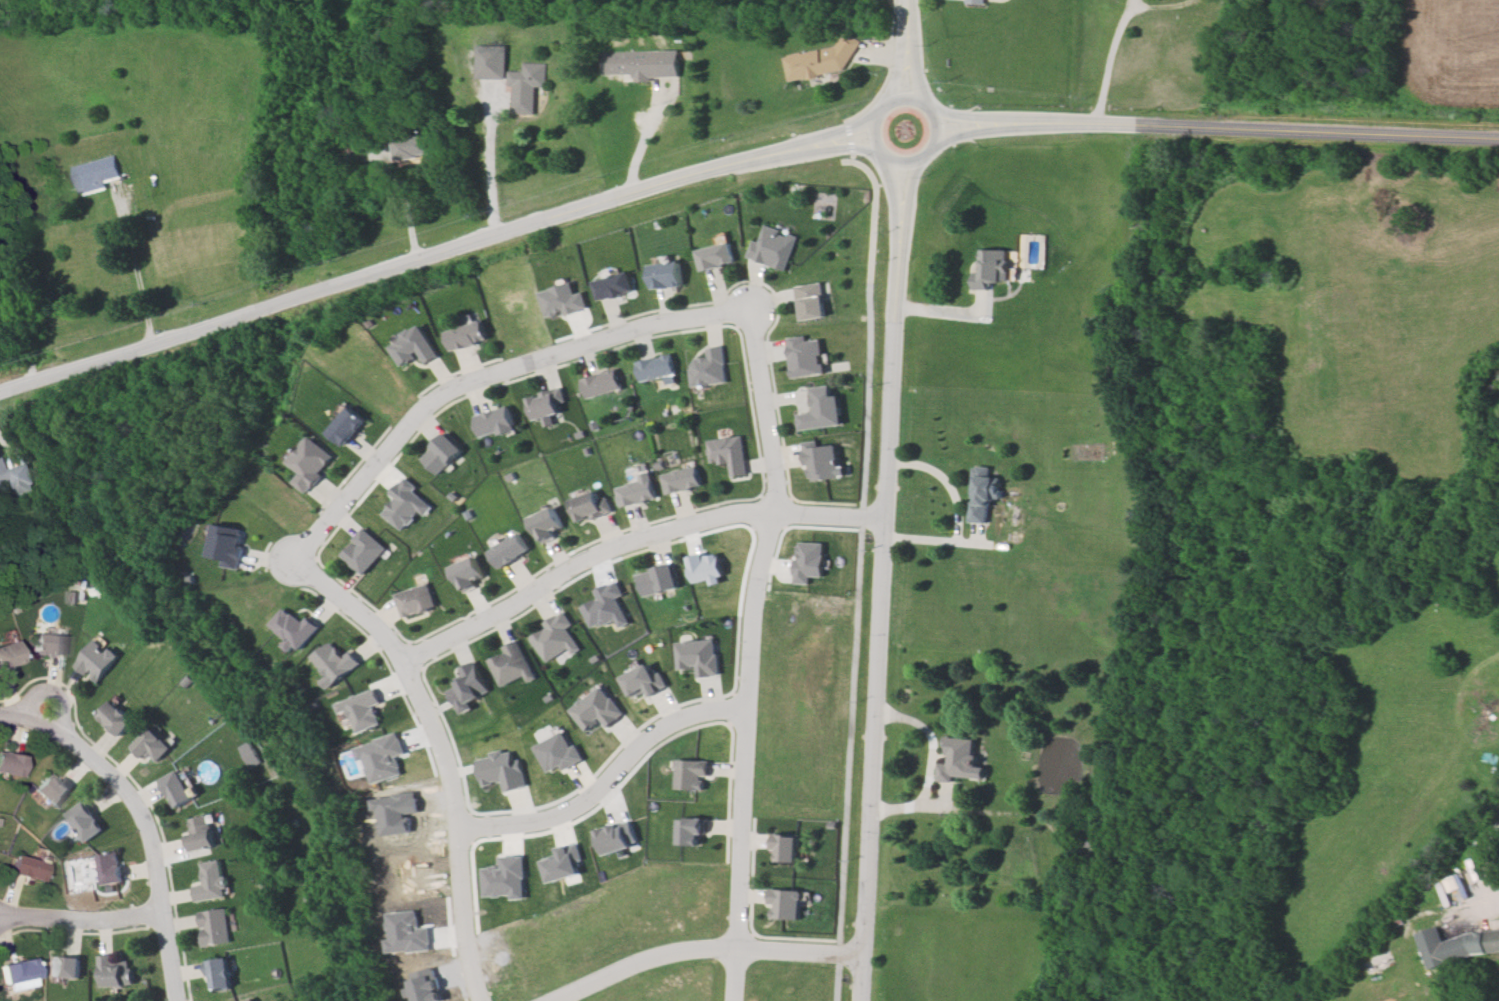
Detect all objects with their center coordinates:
building: (978, 0)
road: (909, 15)
road: (1118, 36)
crop: (1449, 54)
building: (821, 61)
building: (490, 62)
building: (641, 64)
road: (899, 69)
road: (915, 70)
building: (526, 93)
road: (981, 118)
road: (937, 126)
road: (1266, 127)
road: (982, 130)
road: (642, 139)
road: (809, 140)
building: (412, 149)
road: (809, 151)
road: (488, 160)
building: (95, 174)
road: (894, 204)
road: (907, 206)
building: (774, 247)
building: (716, 259)
road: (133, 260)
building: (993, 270)
road: (366, 273)
building: (667, 275)
building: (616, 288)
building: (812, 301)
building: (466, 337)
building: (415, 349)
building: (807, 358)
building: (658, 368)
building: (707, 370)
road: (486, 376)
building: (603, 385)
building: (549, 405)
building: (817, 407)
building: (493, 424)
building: (347, 429)
building: (440, 454)
building: (727, 457)
building: (311, 460)
building: (822, 464)
building: (14, 474)
building: (682, 481)
building: (636, 490)
building: (981, 493)
building: (590, 505)
building: (547, 525)
road: (631, 542)
building: (227, 548)
building: (364, 552)
building: (509, 553)
building: (466, 573)
building: (658, 580)
building: (413, 603)
building: (297, 628)
road: (883, 628)
building: (553, 639)
building: (44, 647)
road: (752, 651)
building: (7, 656)
building: (336, 662)
building: (95, 665)
building: (509, 666)
building: (466, 685)
building: (363, 713)
building: (115, 718)
building: (153, 746)
building: (961, 756)
road: (440, 759)
building: (8, 764)
building: (692, 775)
road: (607, 777)
building: (51, 789)
building: (176, 790)
road: (147, 811)
building: (84, 821)
building: (690, 832)
building: (202, 833)
building: (1090, 837)
building: (785, 847)
building: (23, 866)
road: (1477, 867)
building: (109, 868)
building: (209, 880)
building: (787, 903)
road: (83, 925)
building: (216, 927)
building: (1455, 945)
road: (697, 953)
building: (63, 967)
building: (115, 971)
building: (15, 974)
building: (221, 974)

